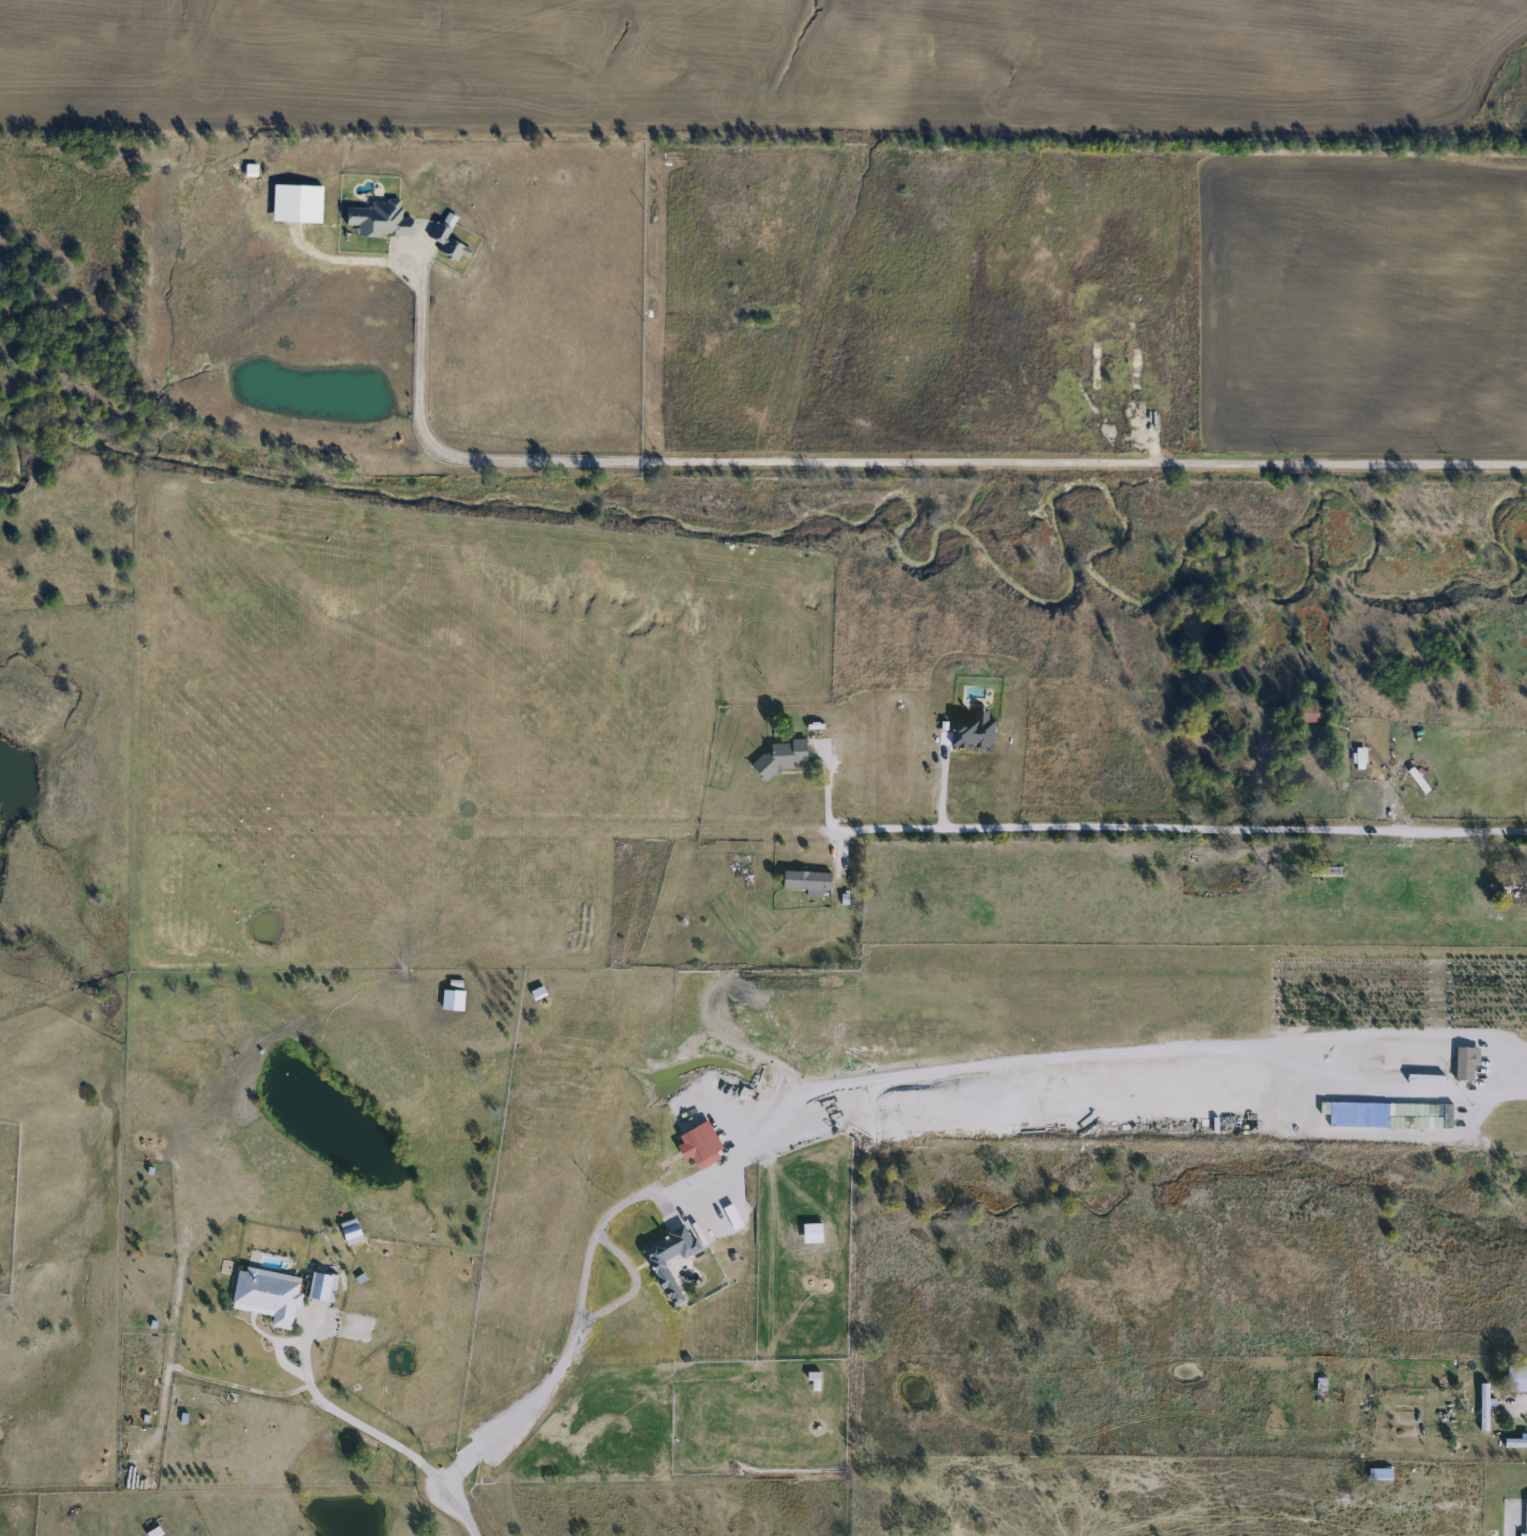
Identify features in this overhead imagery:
building: (249, 169)
building: (377, 218)
building: (445, 242)
building: (1094, 364)
building: (1135, 366)
road: (886, 463)
building: (782, 757)
building: (1358, 758)
road: (1140, 833)
building: (806, 882)
building: (1507, 891)
road: (1526, 913)
building: (1465, 1063)
road: (882, 1077)
building: (1424, 1080)
building: (1420, 1116)
building: (699, 1147)
building: (349, 1232)
building: (669, 1260)
building: (321, 1288)
building: (266, 1295)
building: (1519, 1379)
building: (1319, 1391)
building: (1462, 1403)
building: (1483, 1407)
road: (1514, 1407)
road: (354, 1424)
building: (1515, 1444)
building: (1378, 1475)
road: (456, 1506)
building: (1525, 1519)

